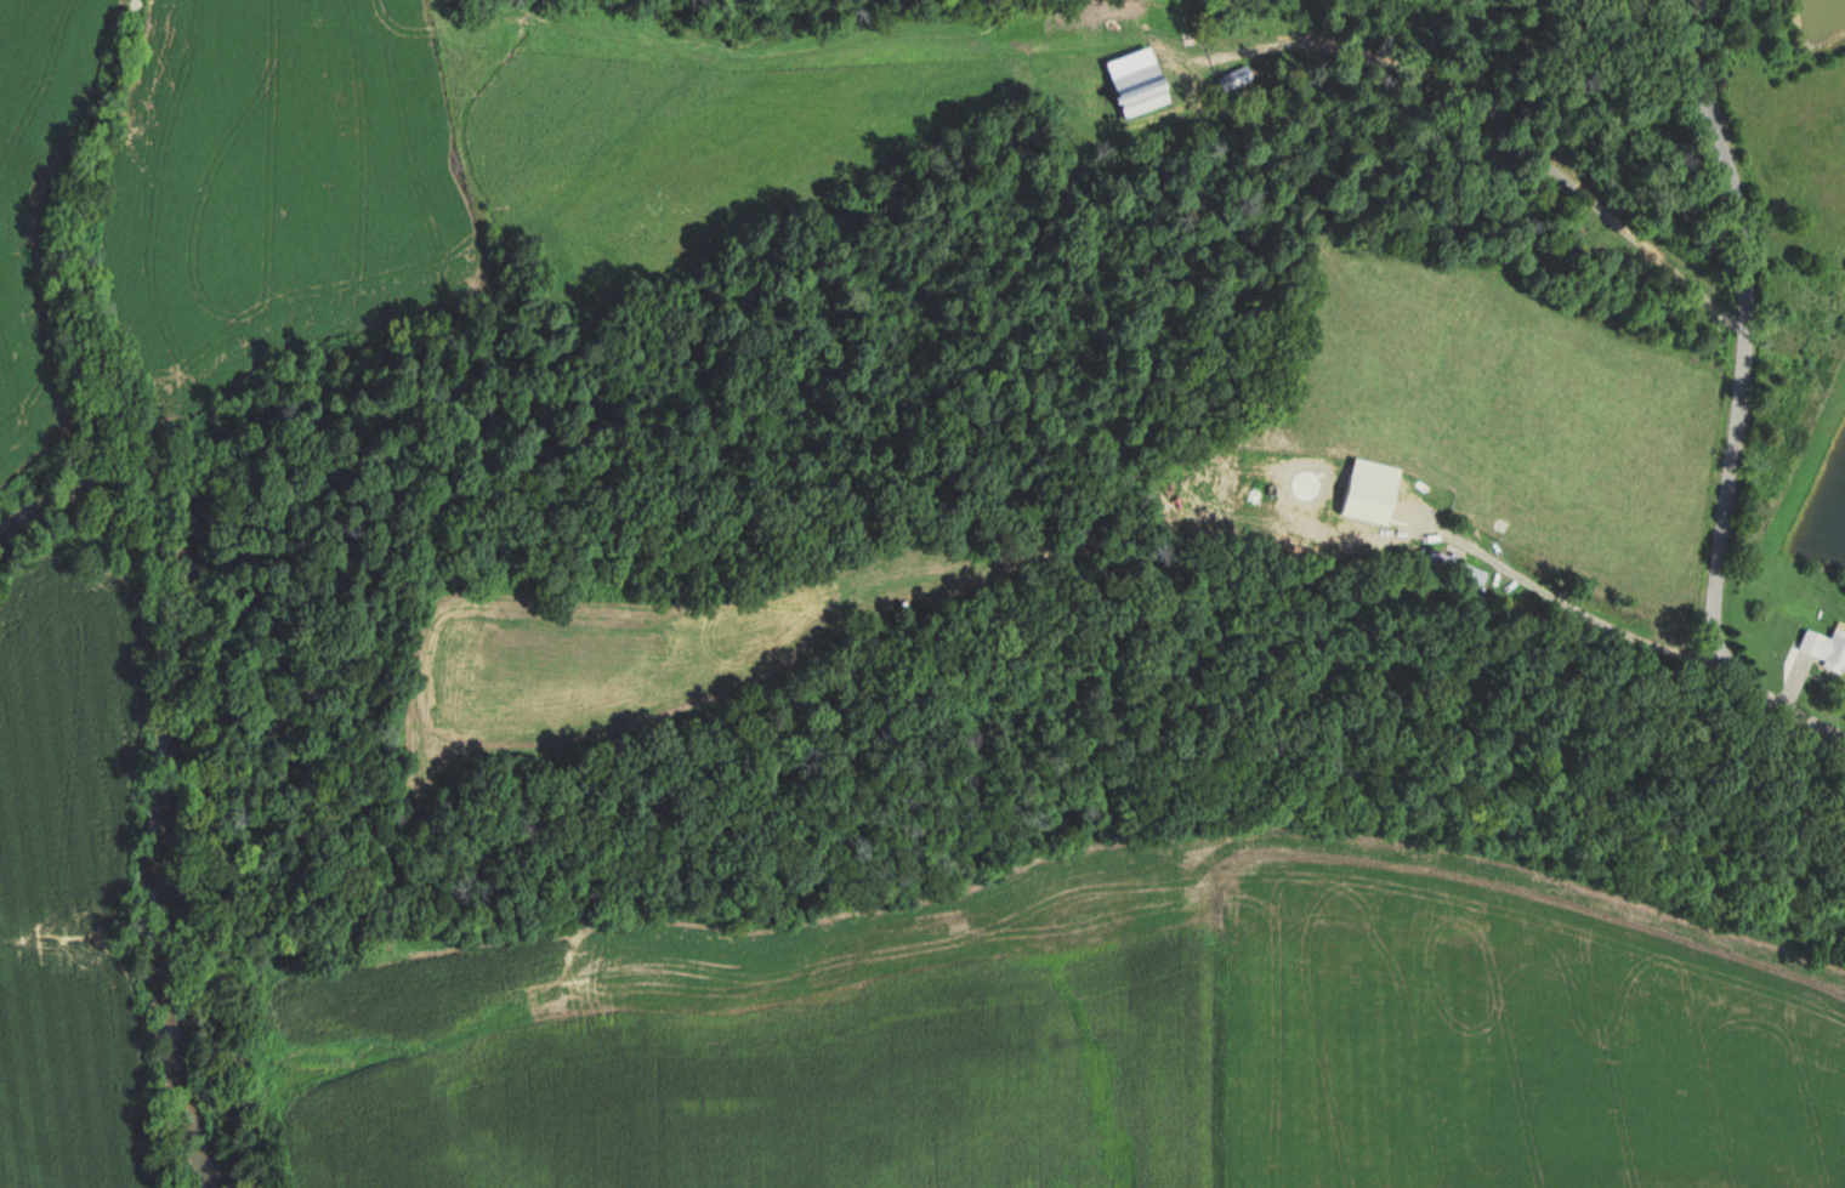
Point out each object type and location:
building: (1137, 90)
road: (1739, 400)
building: (1823, 647)

